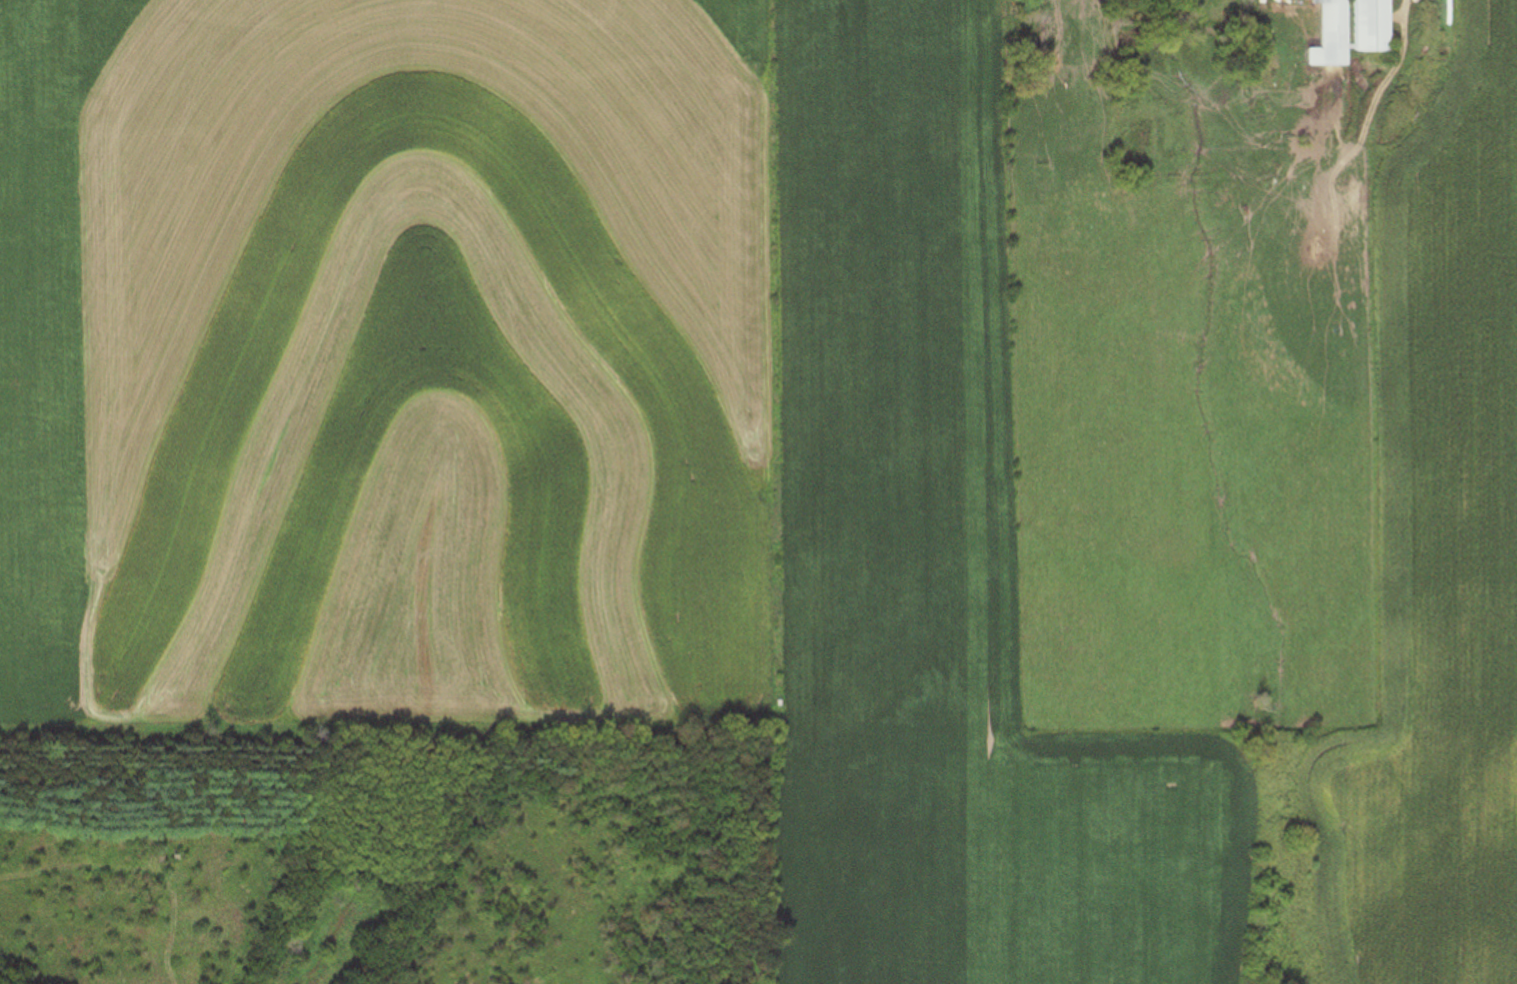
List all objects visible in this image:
building: (1345, 30)

